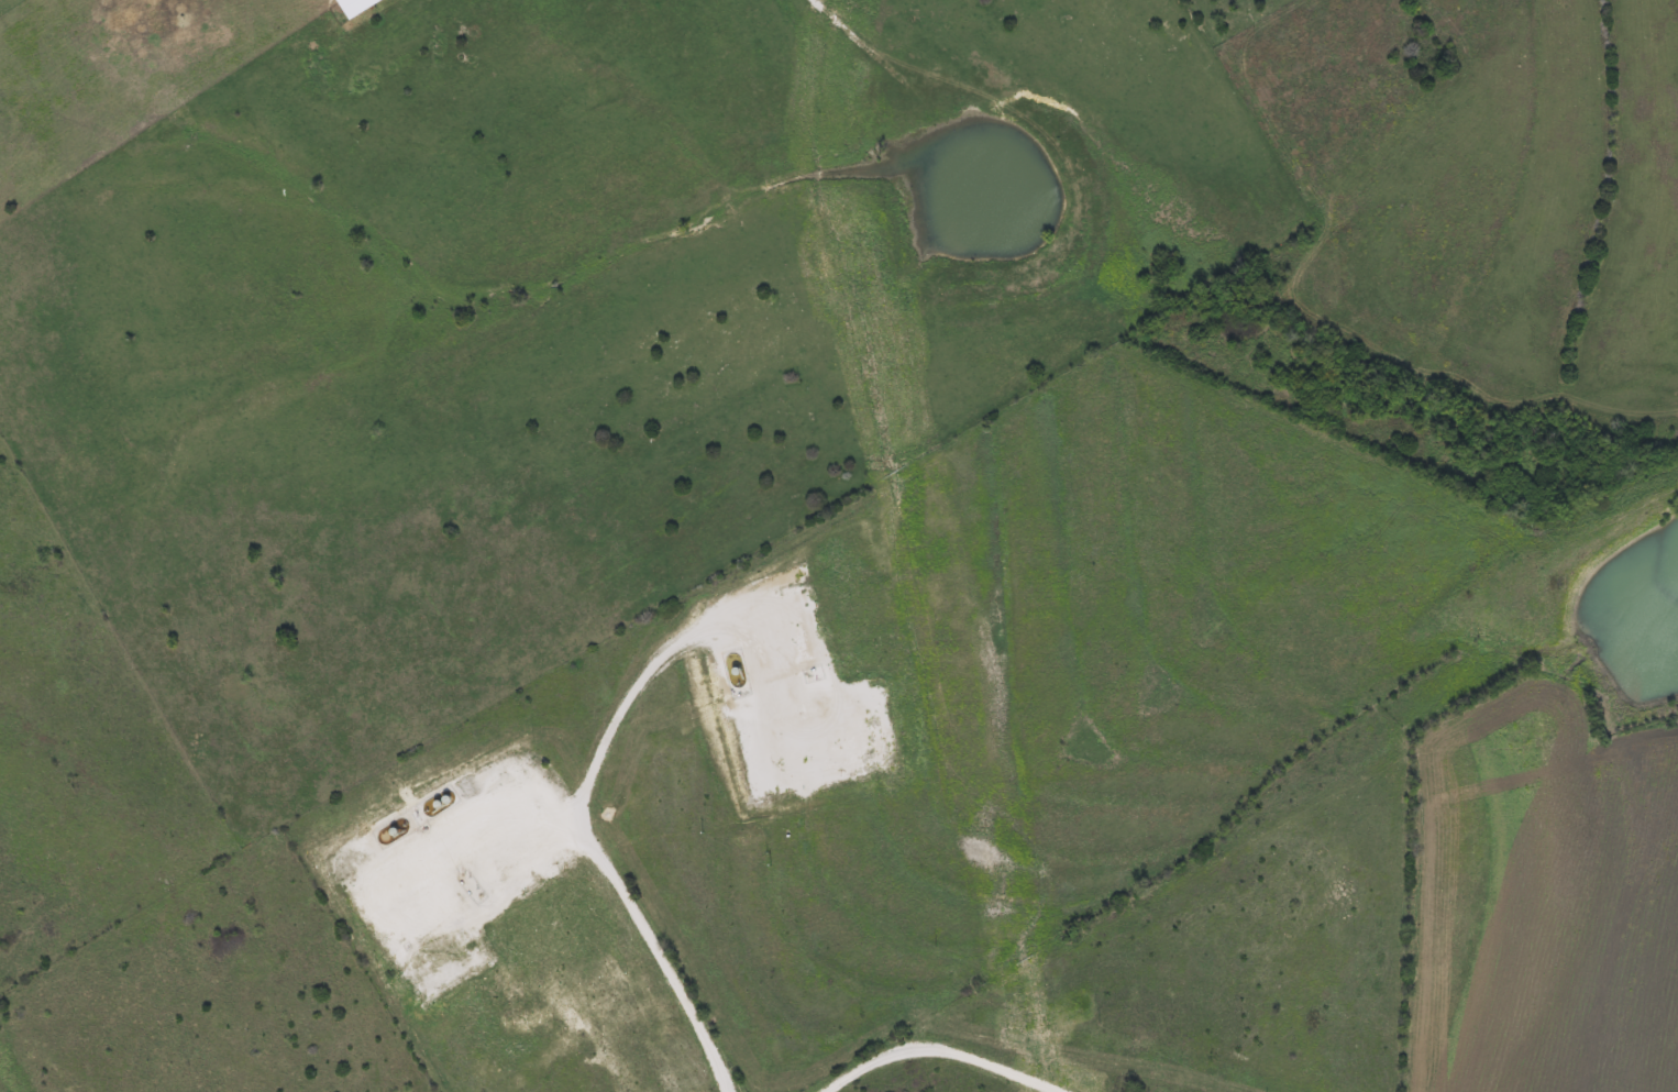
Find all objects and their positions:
road: (611, 878)
road: (937, 1050)

